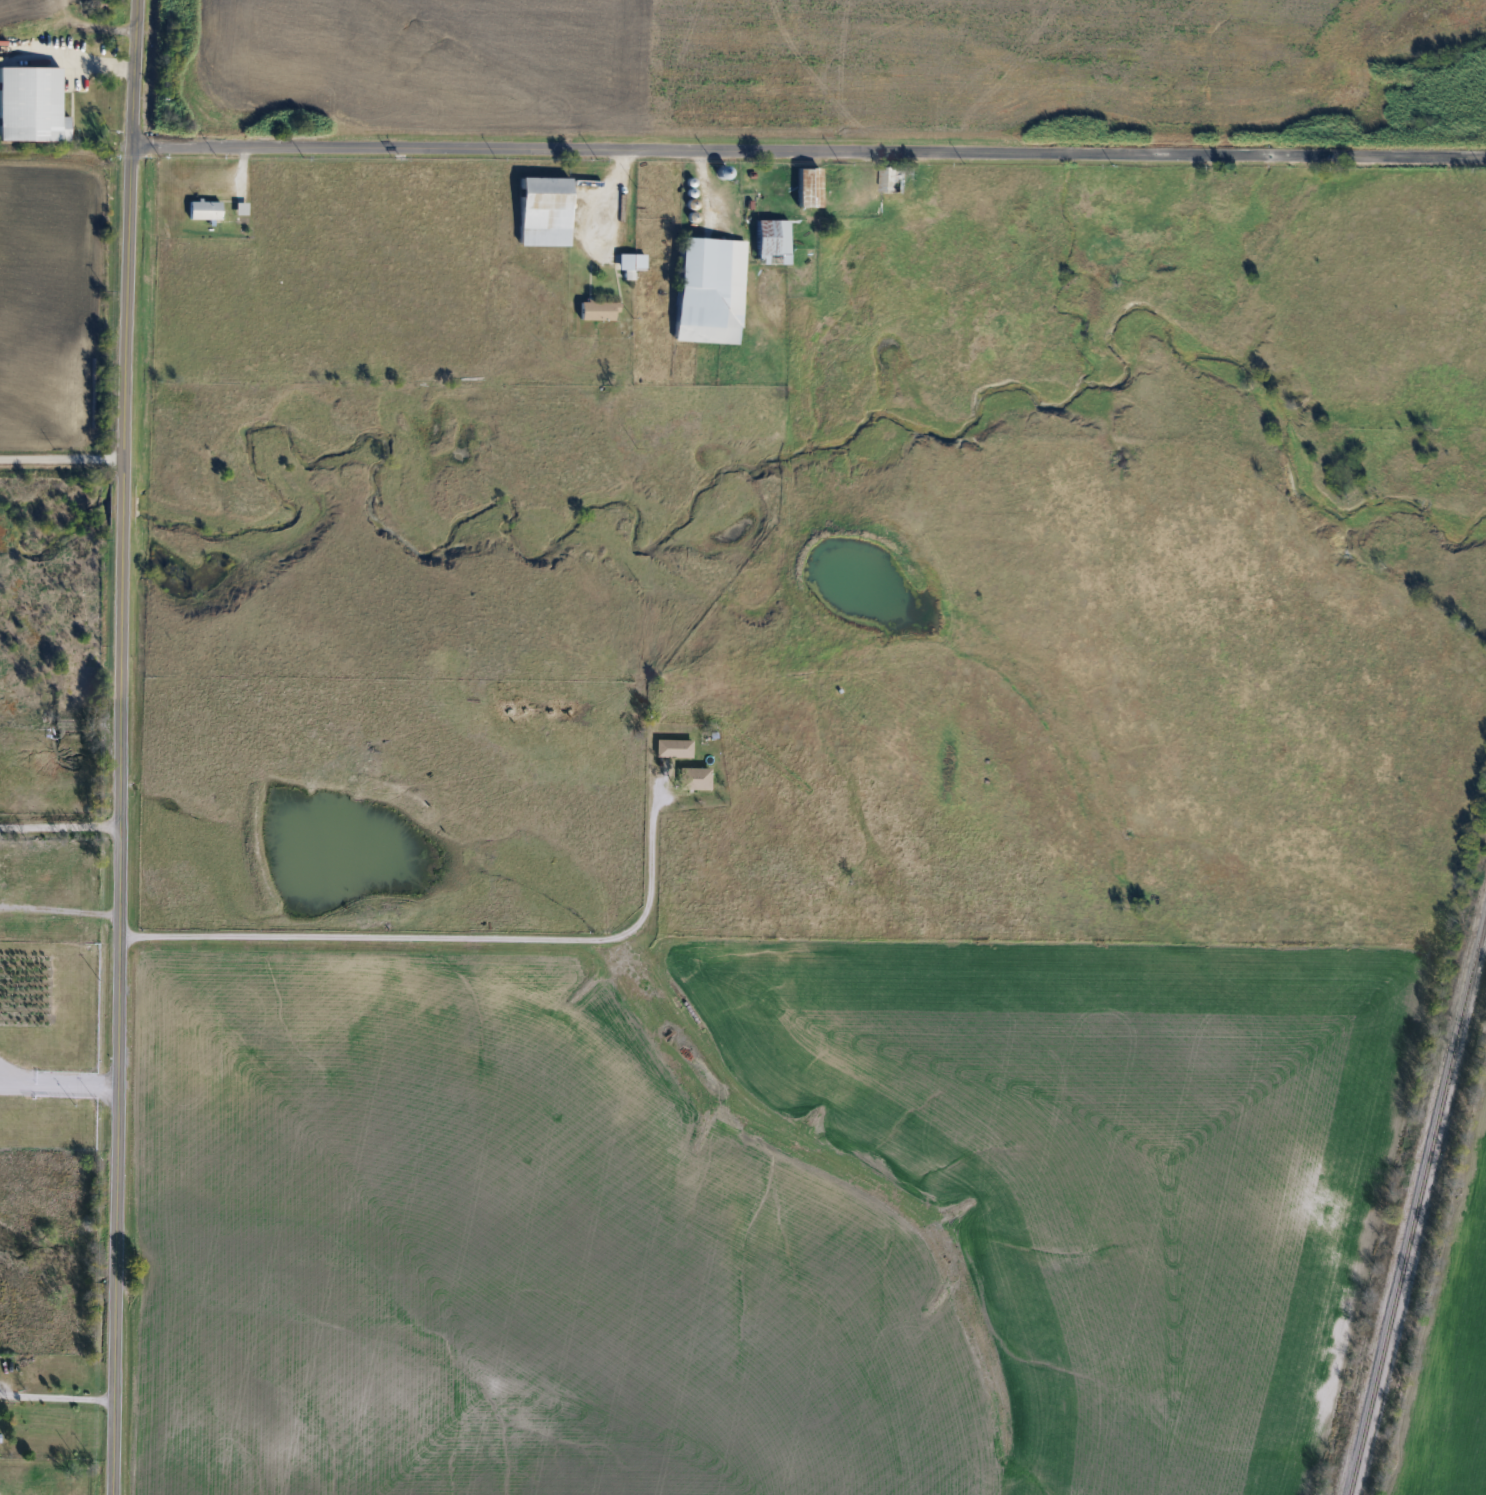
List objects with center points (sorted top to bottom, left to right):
road: (73, 58)
building: (30, 105)
road: (807, 152)
building: (891, 178)
road: (703, 186)
building: (806, 186)
road: (611, 191)
building: (203, 209)
building: (542, 210)
building: (771, 240)
building: (628, 263)
building: (707, 290)
building: (597, 309)
road: (60, 463)
road: (117, 747)
building: (673, 750)
building: (695, 780)
road: (58, 832)
road: (57, 910)
road: (449, 939)
road: (55, 1081)
railway: (1417, 1208)
crop: (752, 1220)
road: (56, 1395)

